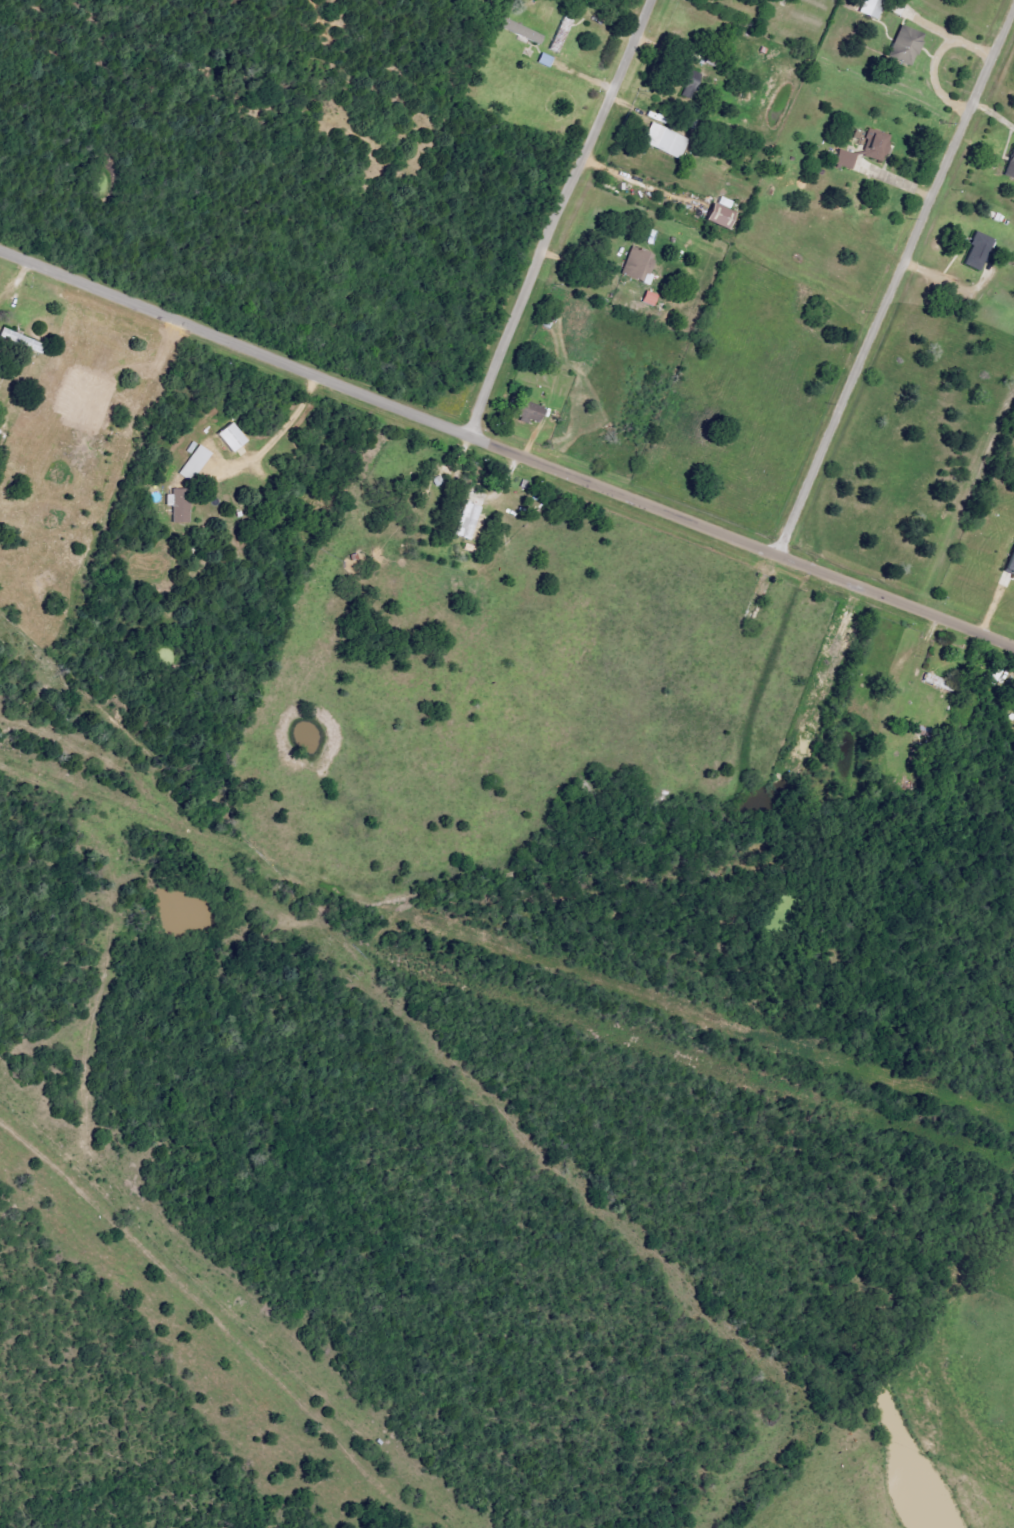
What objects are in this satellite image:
building: (867, 8)
building: (519, 30)
building: (902, 48)
road: (935, 64)
building: (683, 80)
building: (662, 141)
building: (873, 145)
building: (842, 158)
road: (623, 180)
road: (559, 215)
building: (715, 216)
building: (974, 250)
building: (635, 266)
road: (894, 281)
building: (23, 341)
building: (532, 411)
road: (282, 429)
building: (231, 436)
road: (506, 447)
building: (192, 459)
road: (474, 495)
building: (179, 503)
building: (469, 522)
building: (1008, 560)

